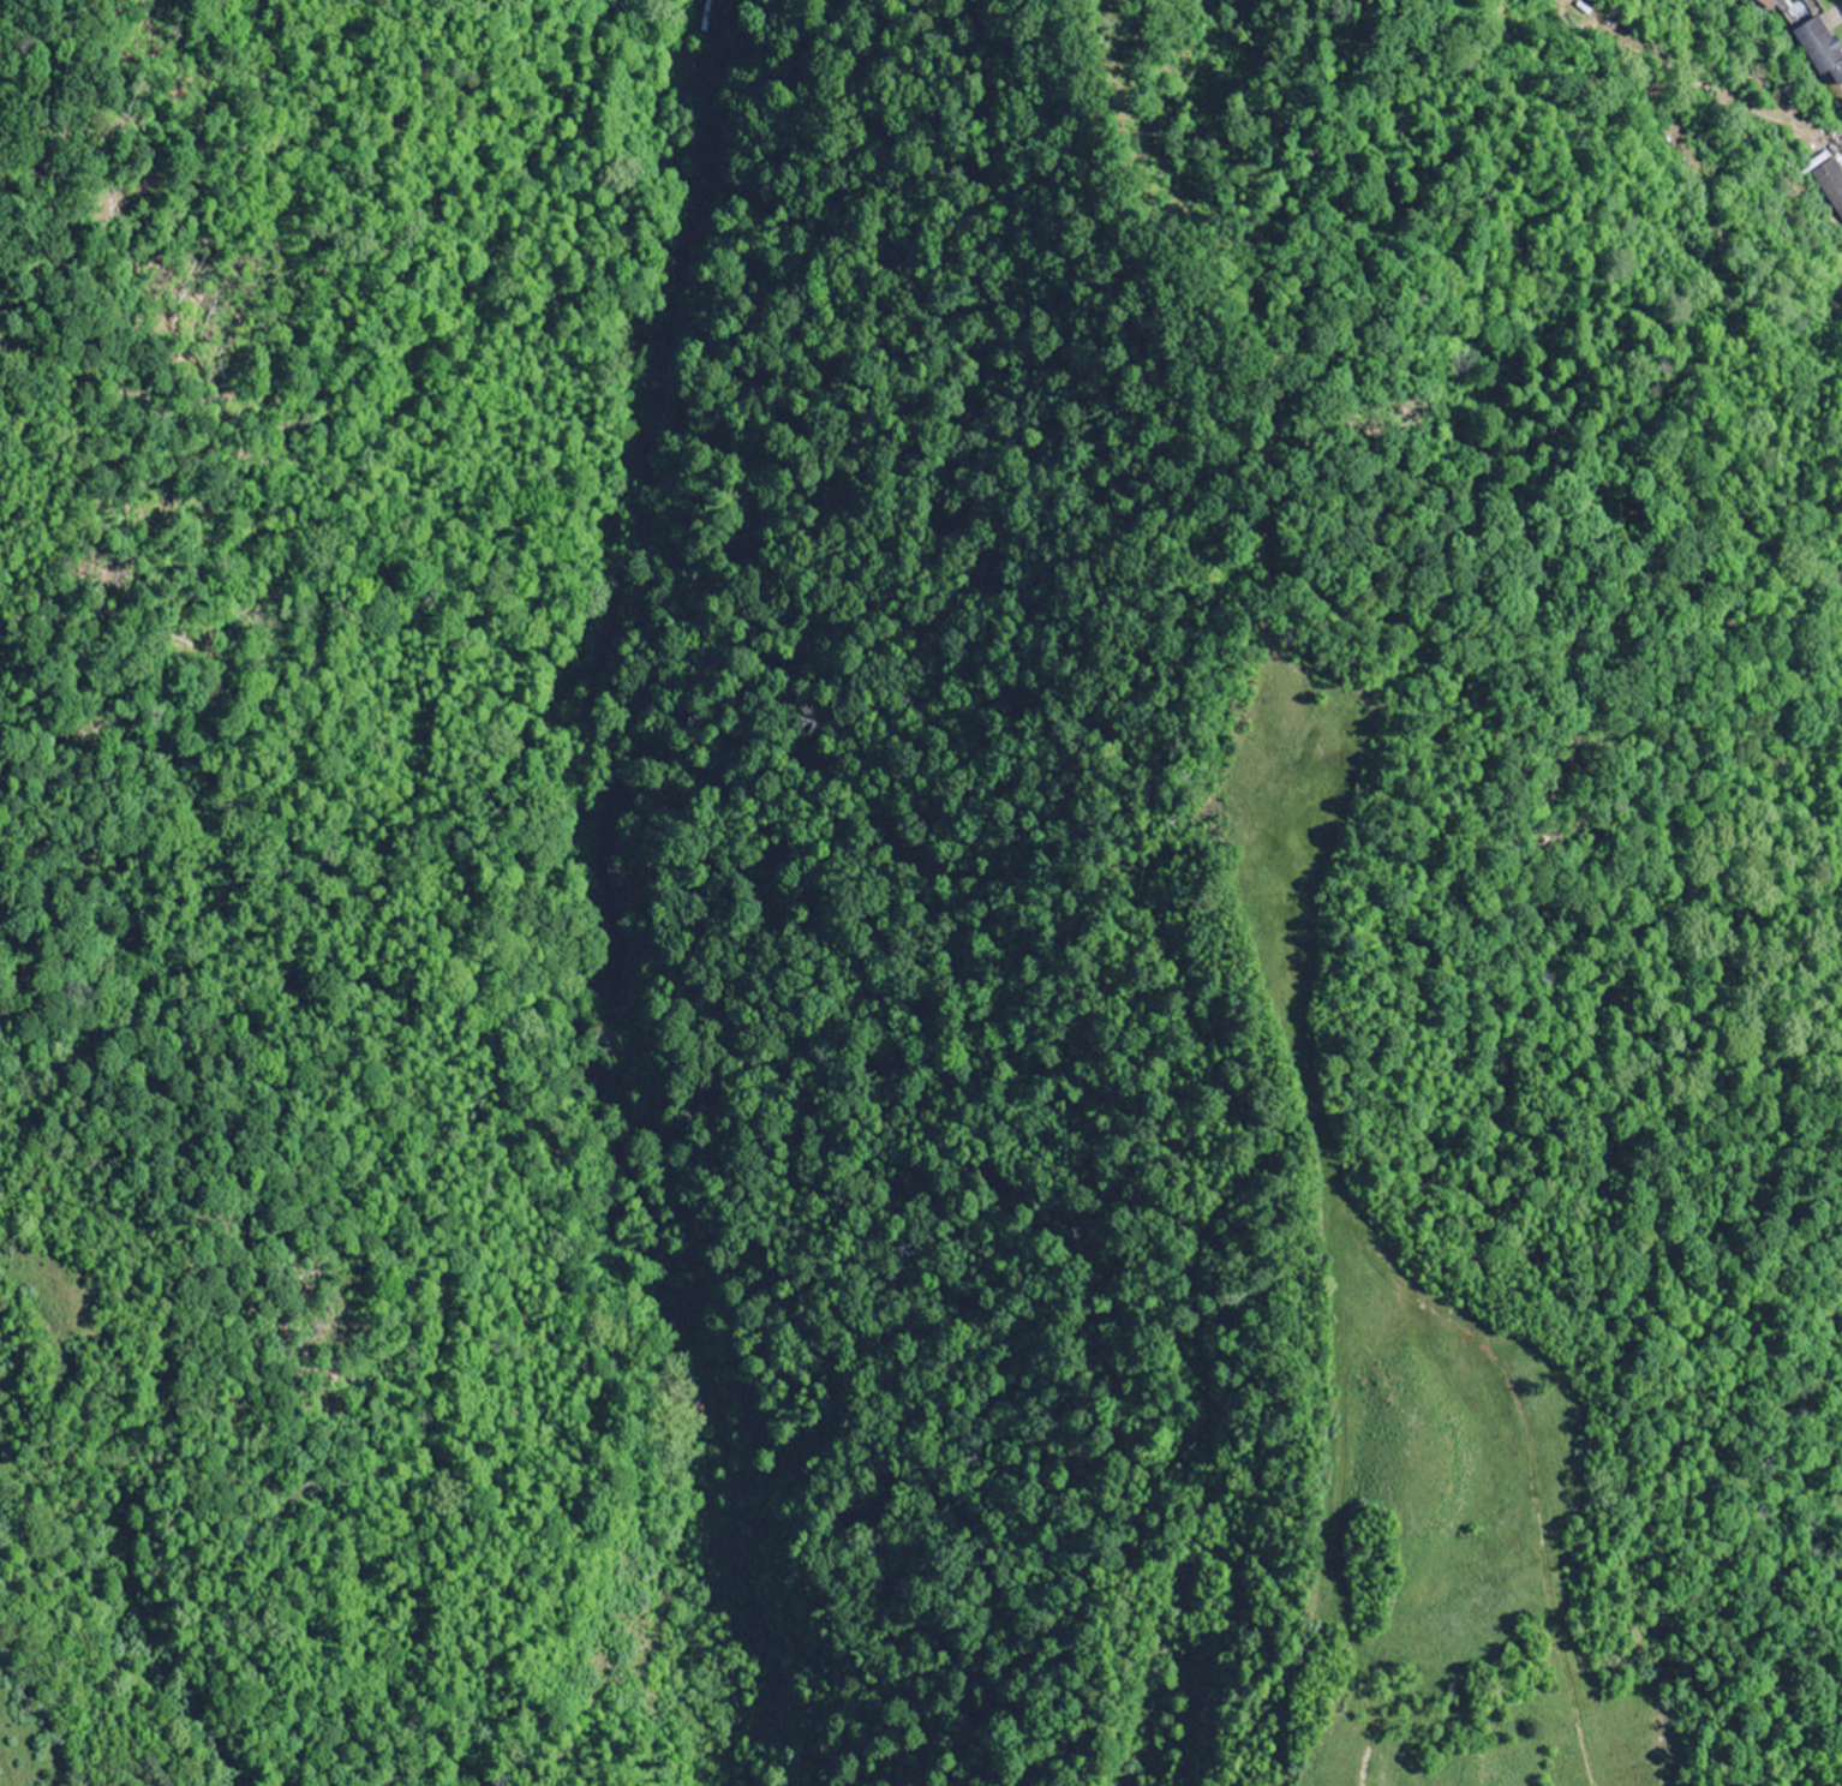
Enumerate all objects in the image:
building: (1770, 8)
building: (1822, 49)
building: (1831, 183)

